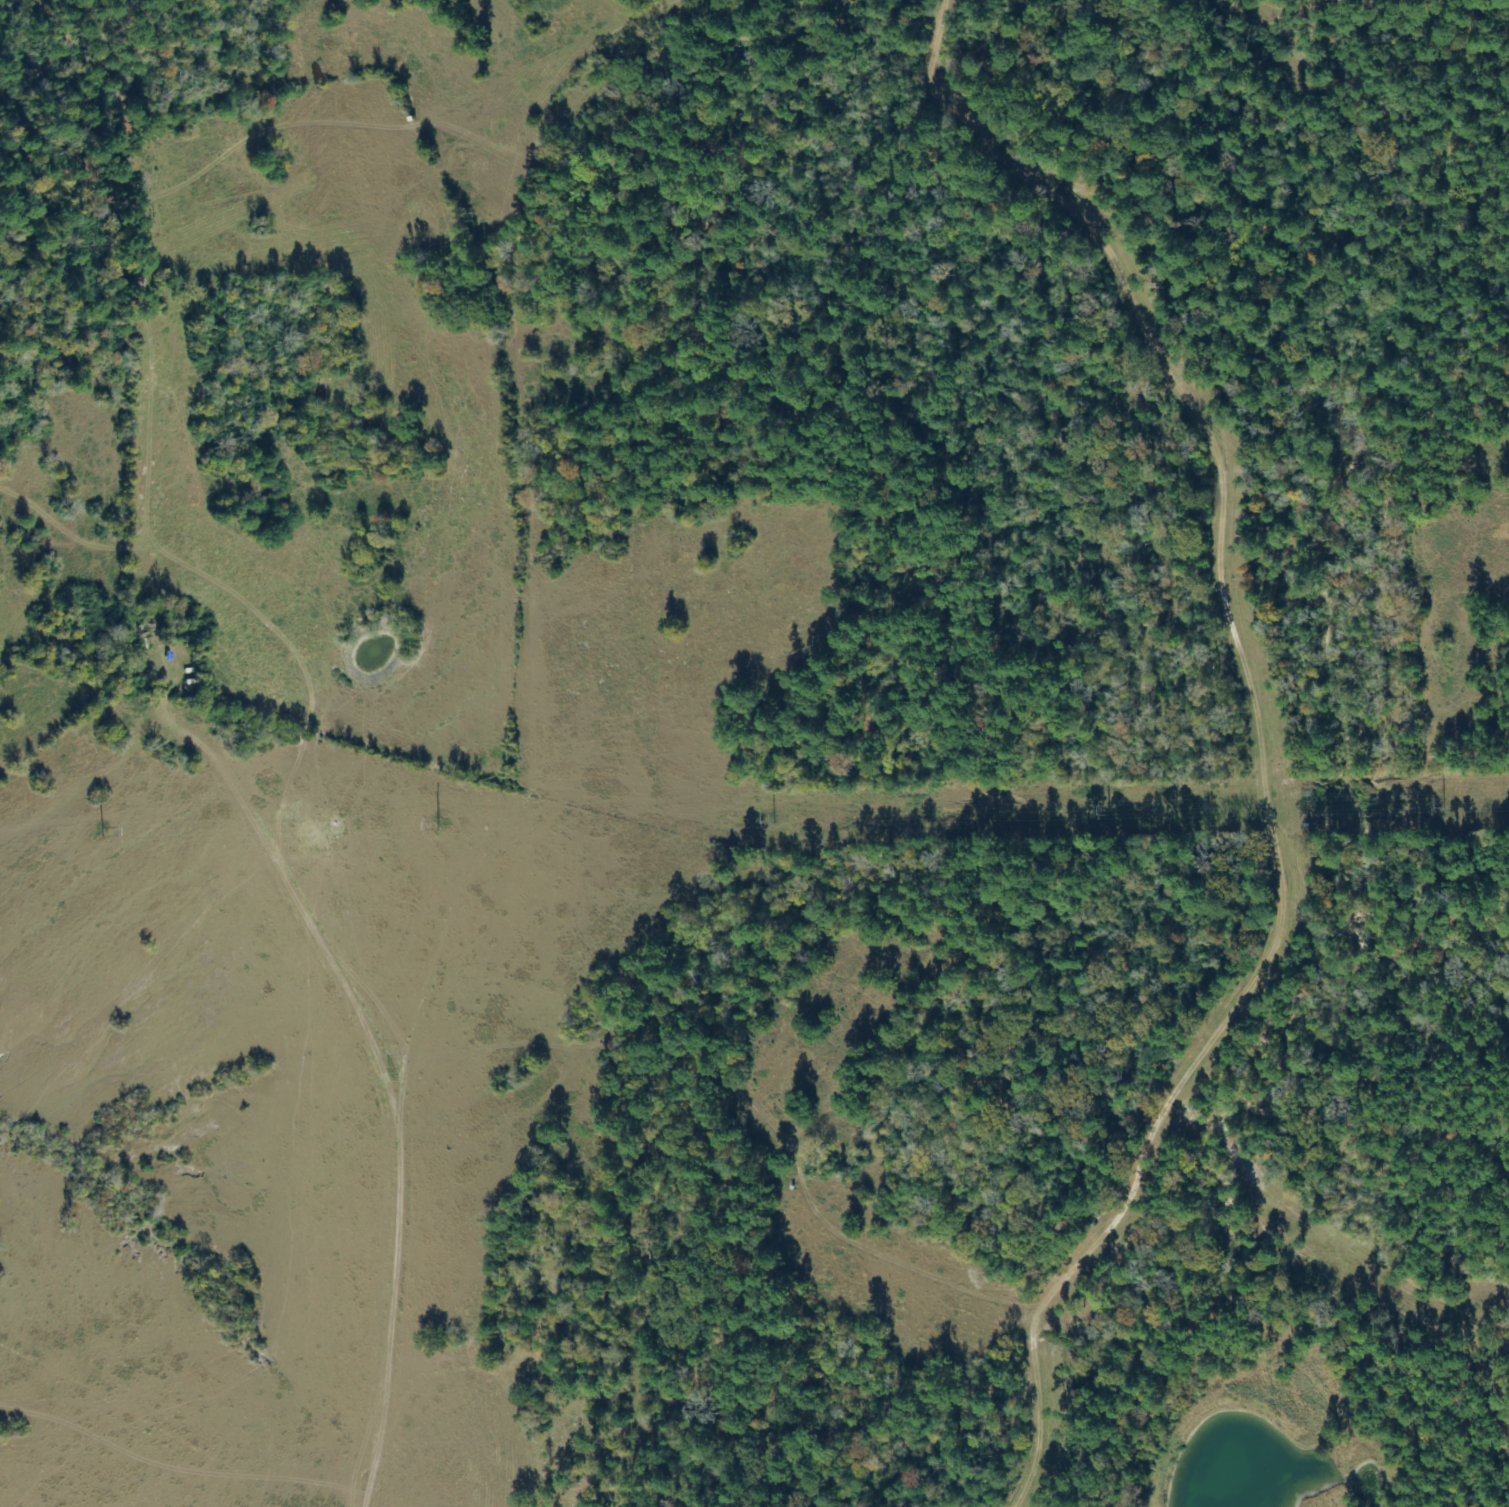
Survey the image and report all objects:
building: (145, 635)
road: (1256, 738)
power tower: (1441, 802)
power tower: (1106, 810)
power tower: (772, 817)
power tower: (436, 823)
power tower: (101, 831)

